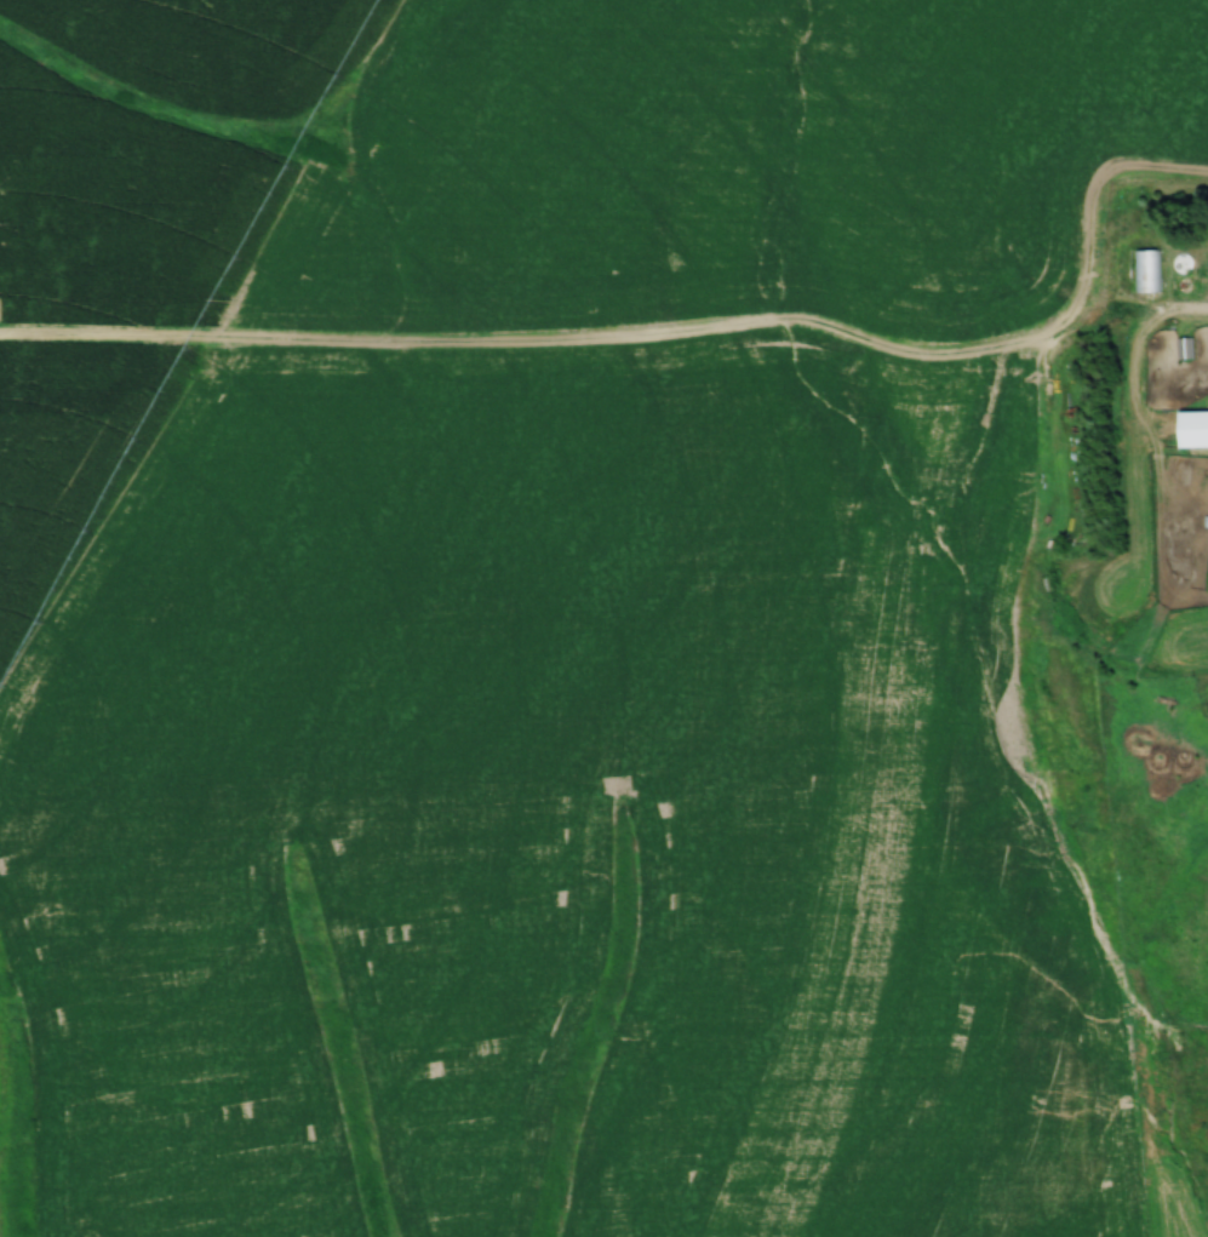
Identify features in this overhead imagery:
building: (1183, 264)
building: (1147, 270)

